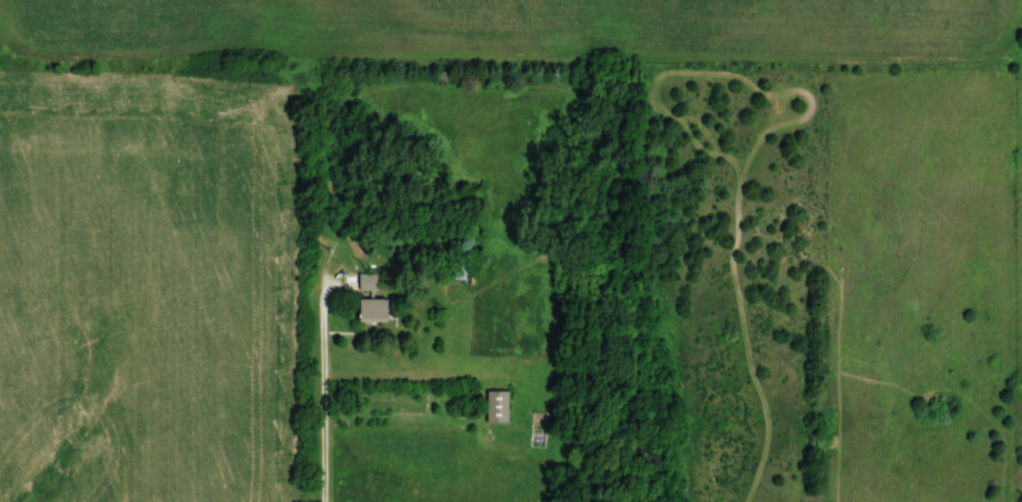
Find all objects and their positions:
building: (452, 272)
building: (364, 282)
building: (366, 310)
building: (494, 406)
road: (324, 413)

